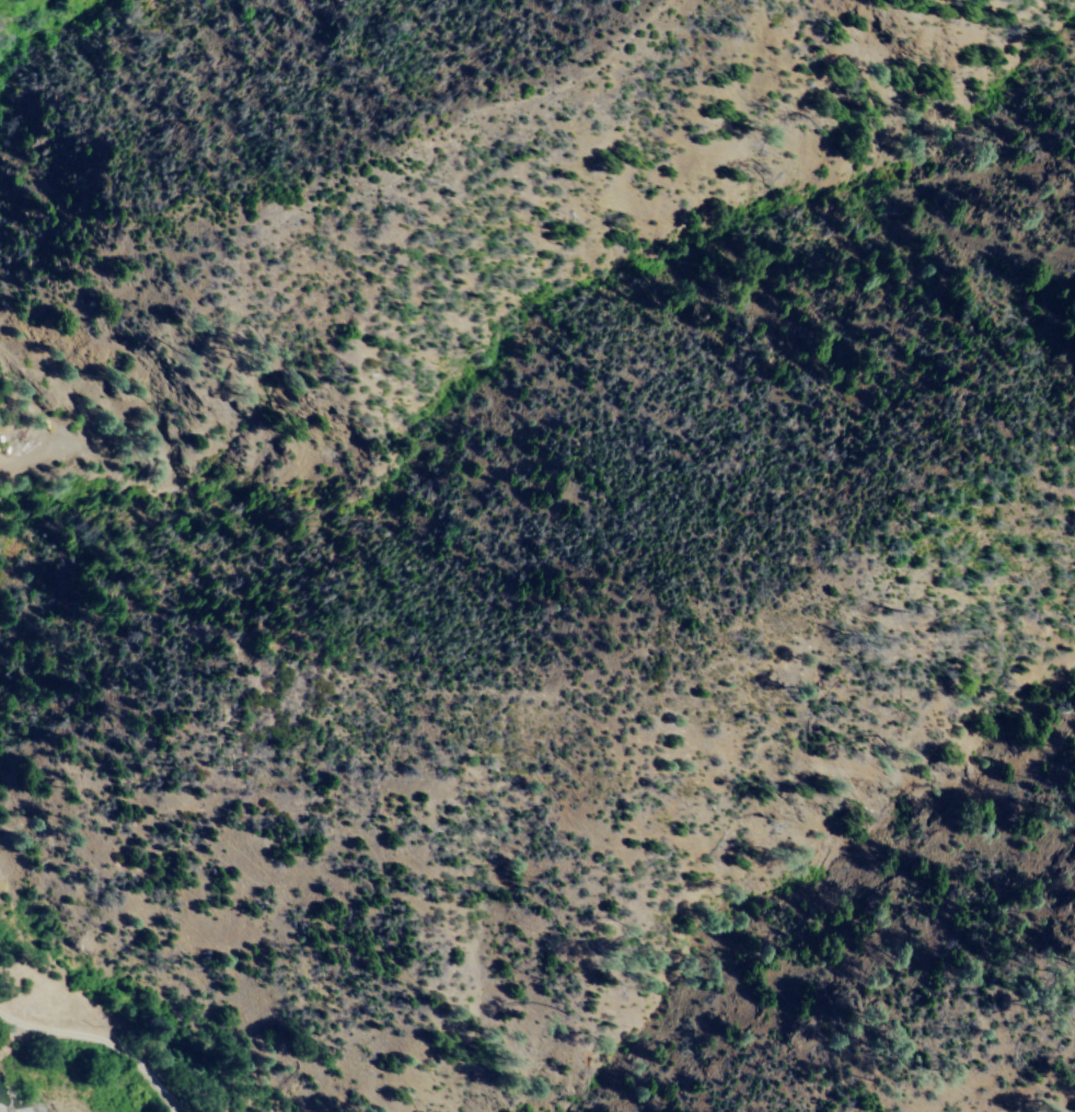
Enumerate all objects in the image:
road: (107, 1036)

